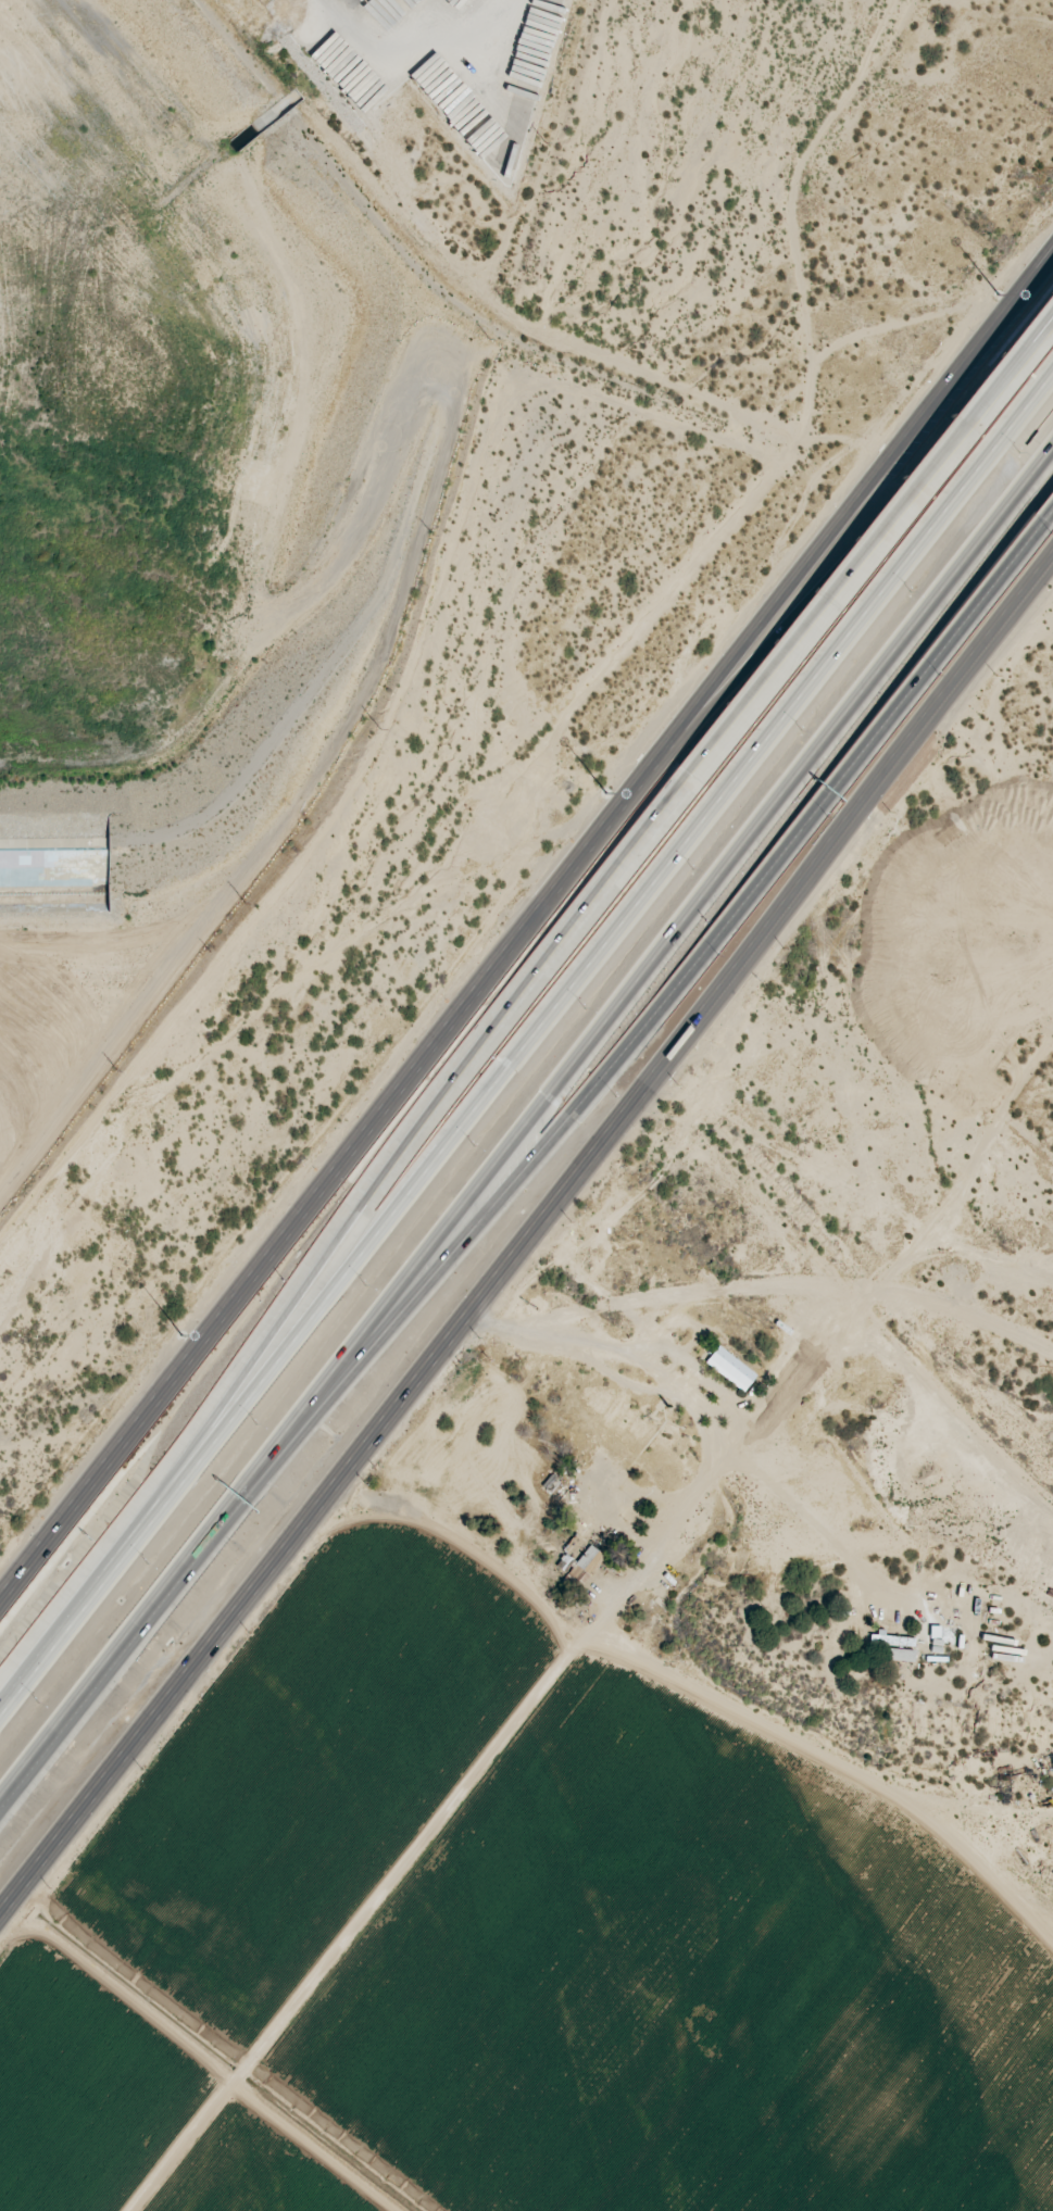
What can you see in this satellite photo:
road: (957, 368)
road: (887, 504)
road: (870, 547)
road: (981, 588)
road: (967, 664)
road: (636, 907)
road: (685, 918)
road: (624, 1042)
road: (433, 1047)
road: (442, 1102)
road: (443, 1346)
building: (730, 1368)
building: (588, 1559)
building: (573, 1573)
road: (105, 1575)
road: (159, 1598)
building: (900, 1654)
road: (544, 1695)
road: (203, 2056)

